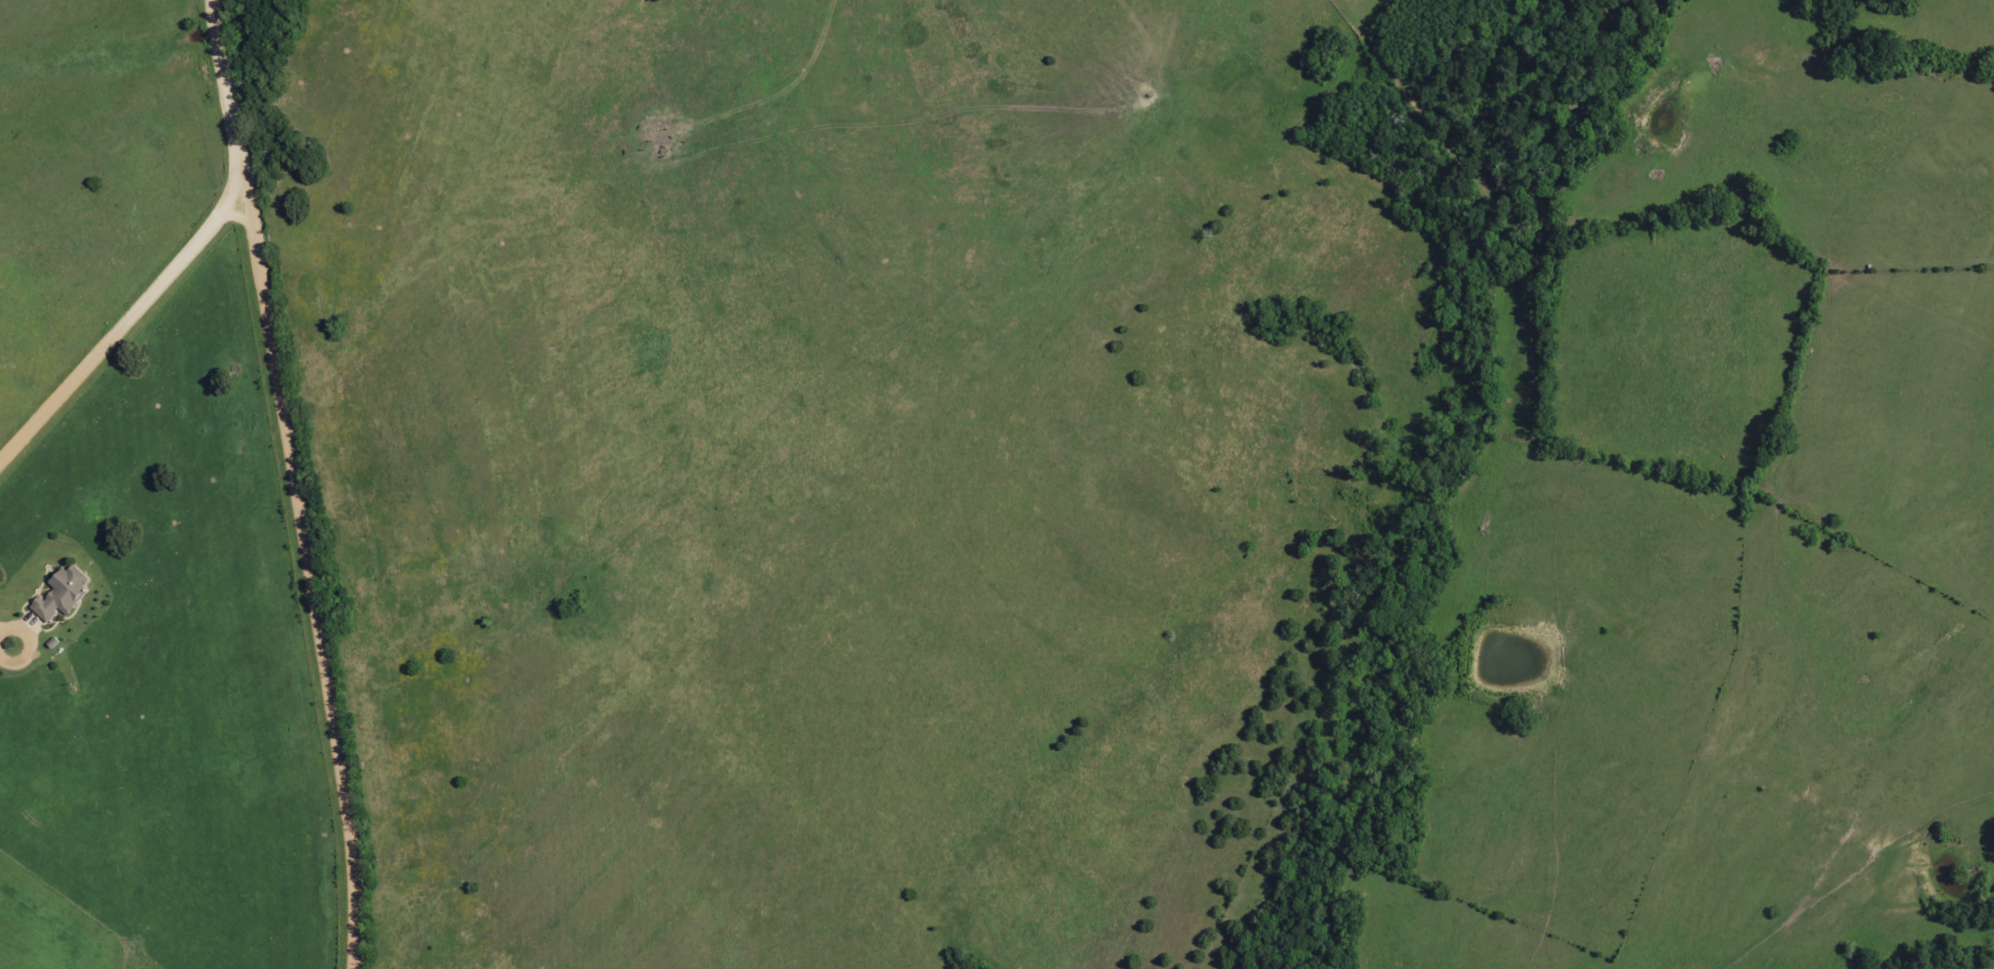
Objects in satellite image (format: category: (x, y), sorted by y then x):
road: (187, 256)
road: (314, 575)

